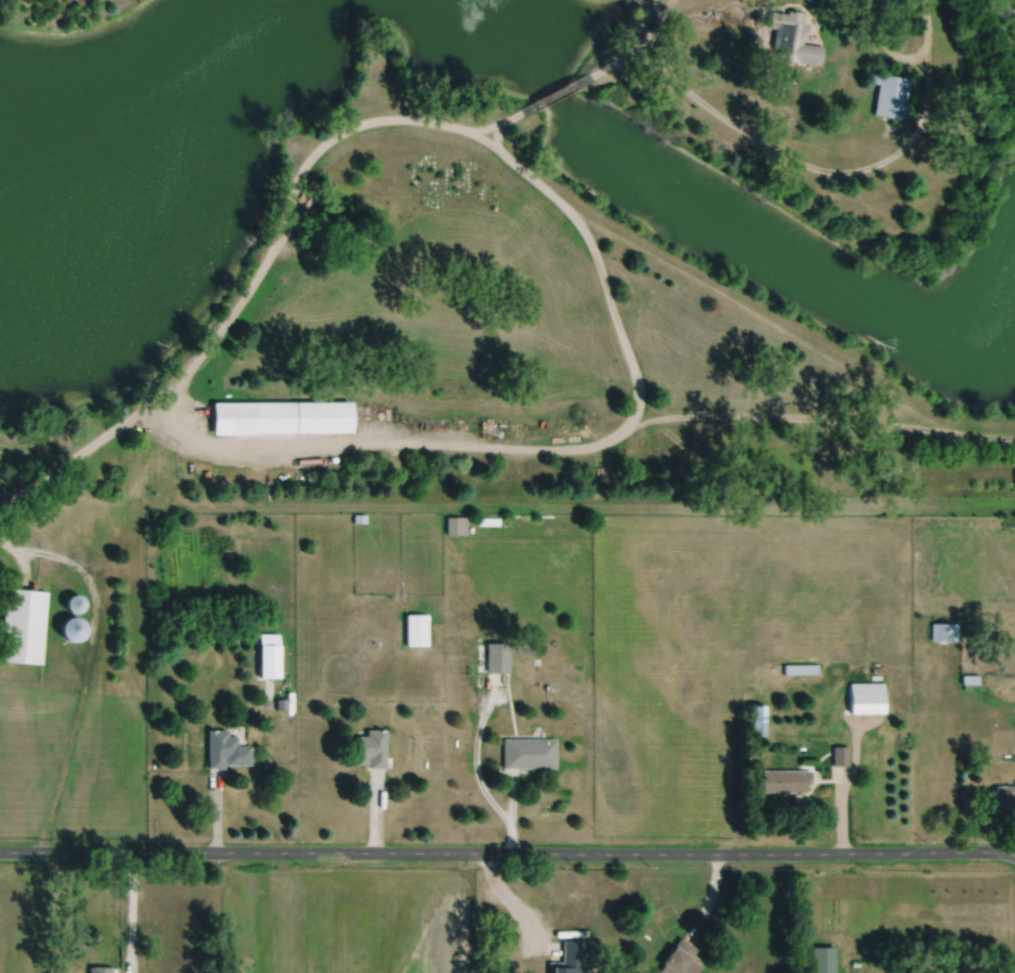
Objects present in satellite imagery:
road: (641, 1)
road: (653, 8)
road: (664, 10)
road: (653, 26)
building: (791, 38)
road: (900, 56)
road: (622, 57)
road: (556, 94)
building: (888, 95)
road: (500, 124)
road: (803, 161)
road: (601, 270)
road: (762, 319)
building: (280, 416)
road: (823, 419)
building: (55, 448)
road: (76, 454)
road: (27, 457)
building: (358, 517)
building: (455, 524)
building: (225, 552)
building: (73, 603)
building: (22, 625)
building: (71, 628)
building: (415, 629)
building: (943, 631)
building: (267, 655)
building: (496, 657)
road: (87, 667)
building: (800, 668)
building: (968, 680)
building: (866, 697)
building: (279, 703)
building: (757, 719)
building: (370, 748)
building: (223, 750)
building: (528, 753)
building: (840, 755)
road: (855, 757)
road: (476, 758)
building: (784, 780)
building: (1003, 799)
road: (840, 810)
road: (510, 811)
road: (216, 812)
road: (374, 812)
road: (507, 852)
road: (709, 897)
road: (511, 901)
road: (130, 911)
crop: (353, 919)
building: (568, 958)
building: (677, 958)
building: (821, 959)
building: (100, 969)

